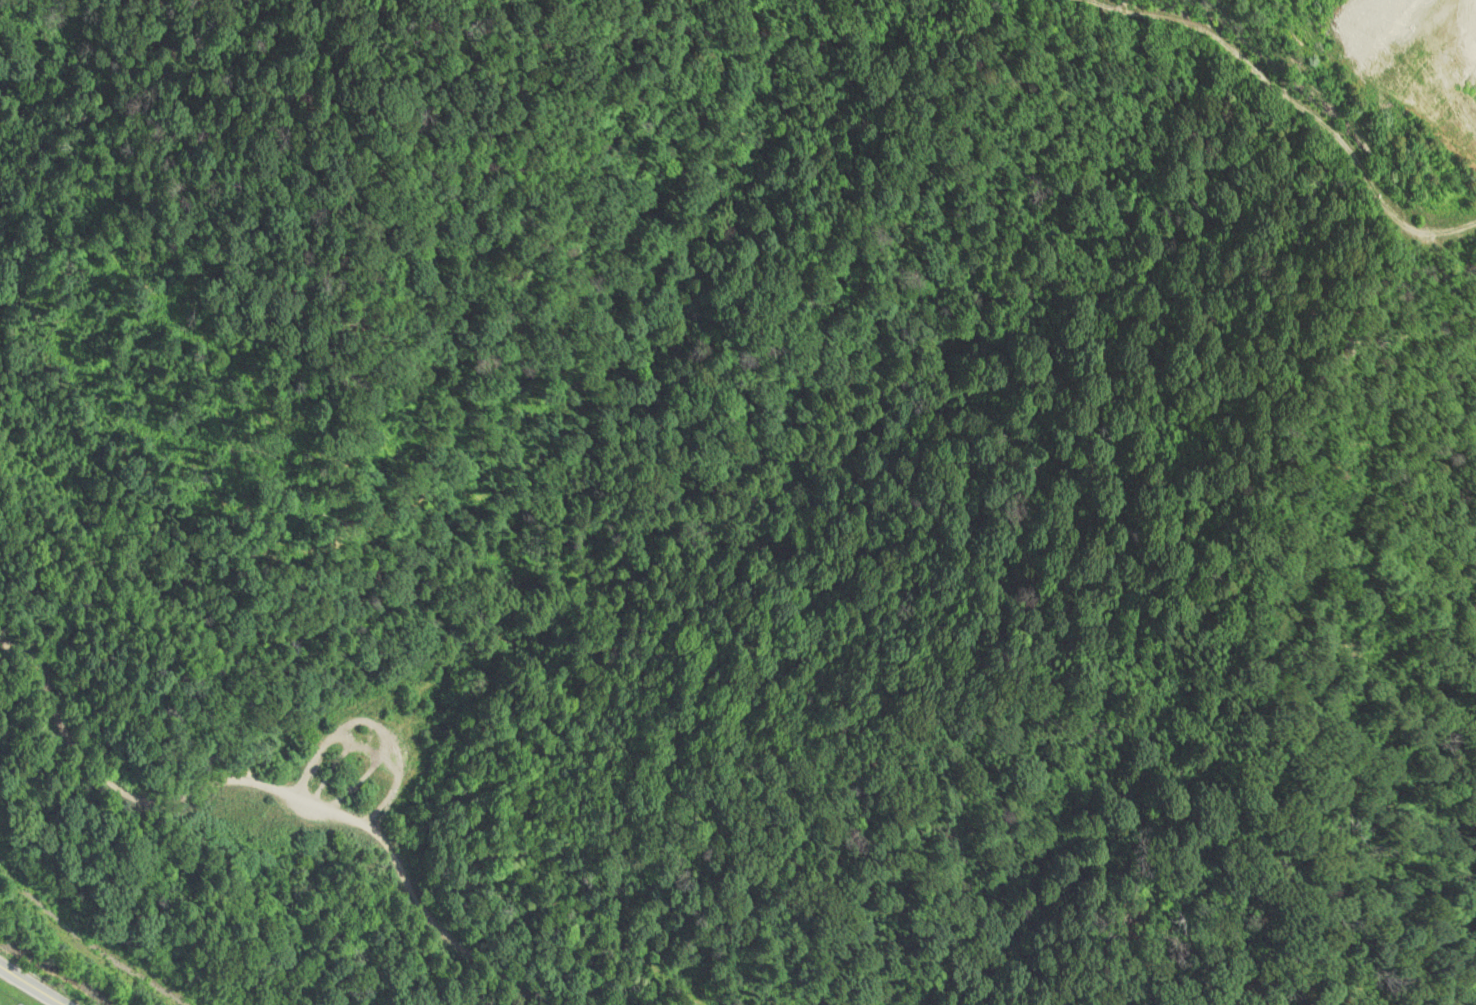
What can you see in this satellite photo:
railway: (88, 942)
road: (28, 989)

